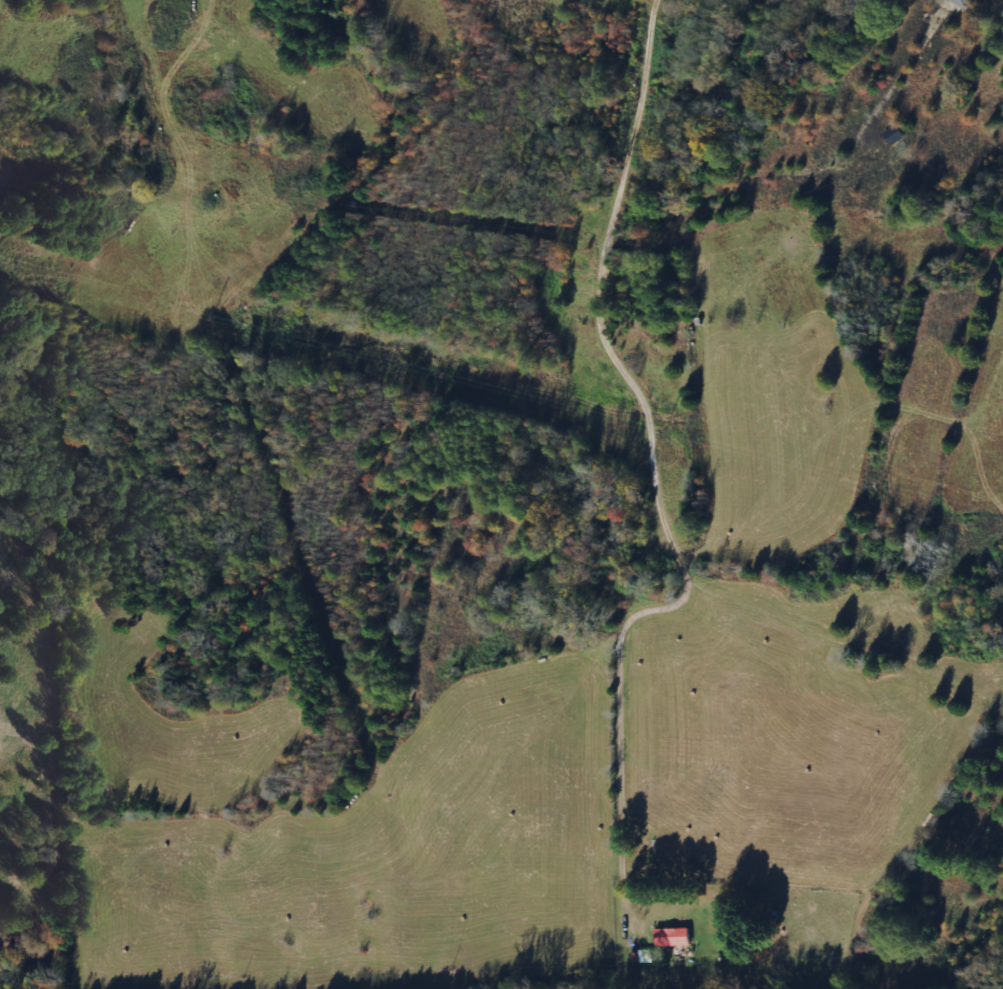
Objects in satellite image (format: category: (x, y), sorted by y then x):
building: (955, 2)
building: (671, 937)

